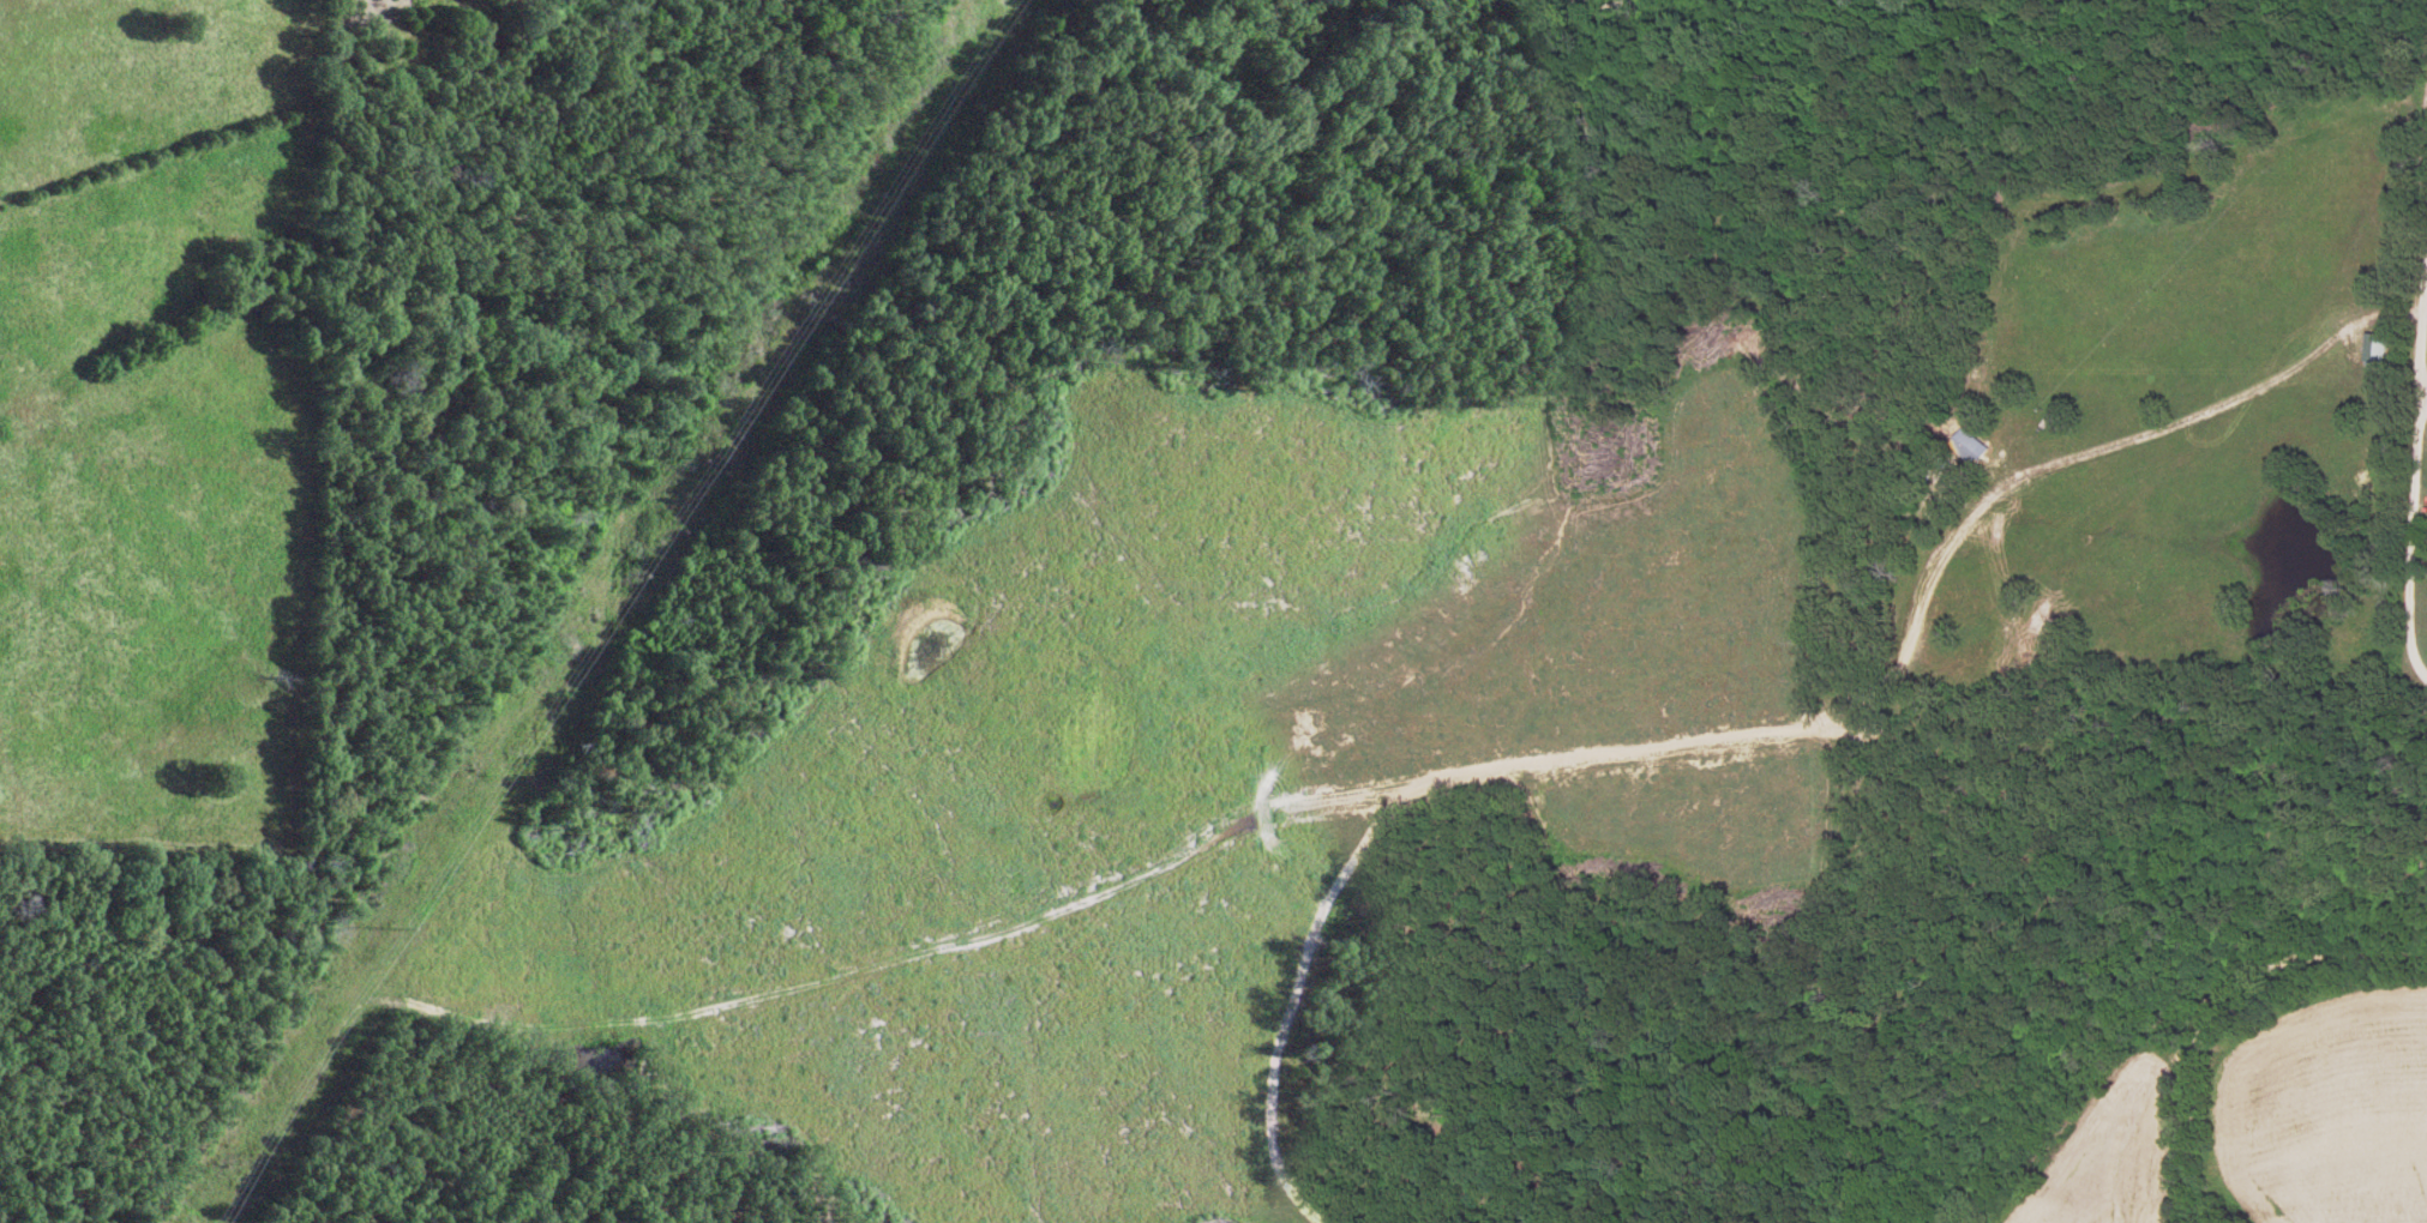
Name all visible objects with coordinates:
building: (2371, 349)
building: (1965, 446)
road: (2419, 498)

